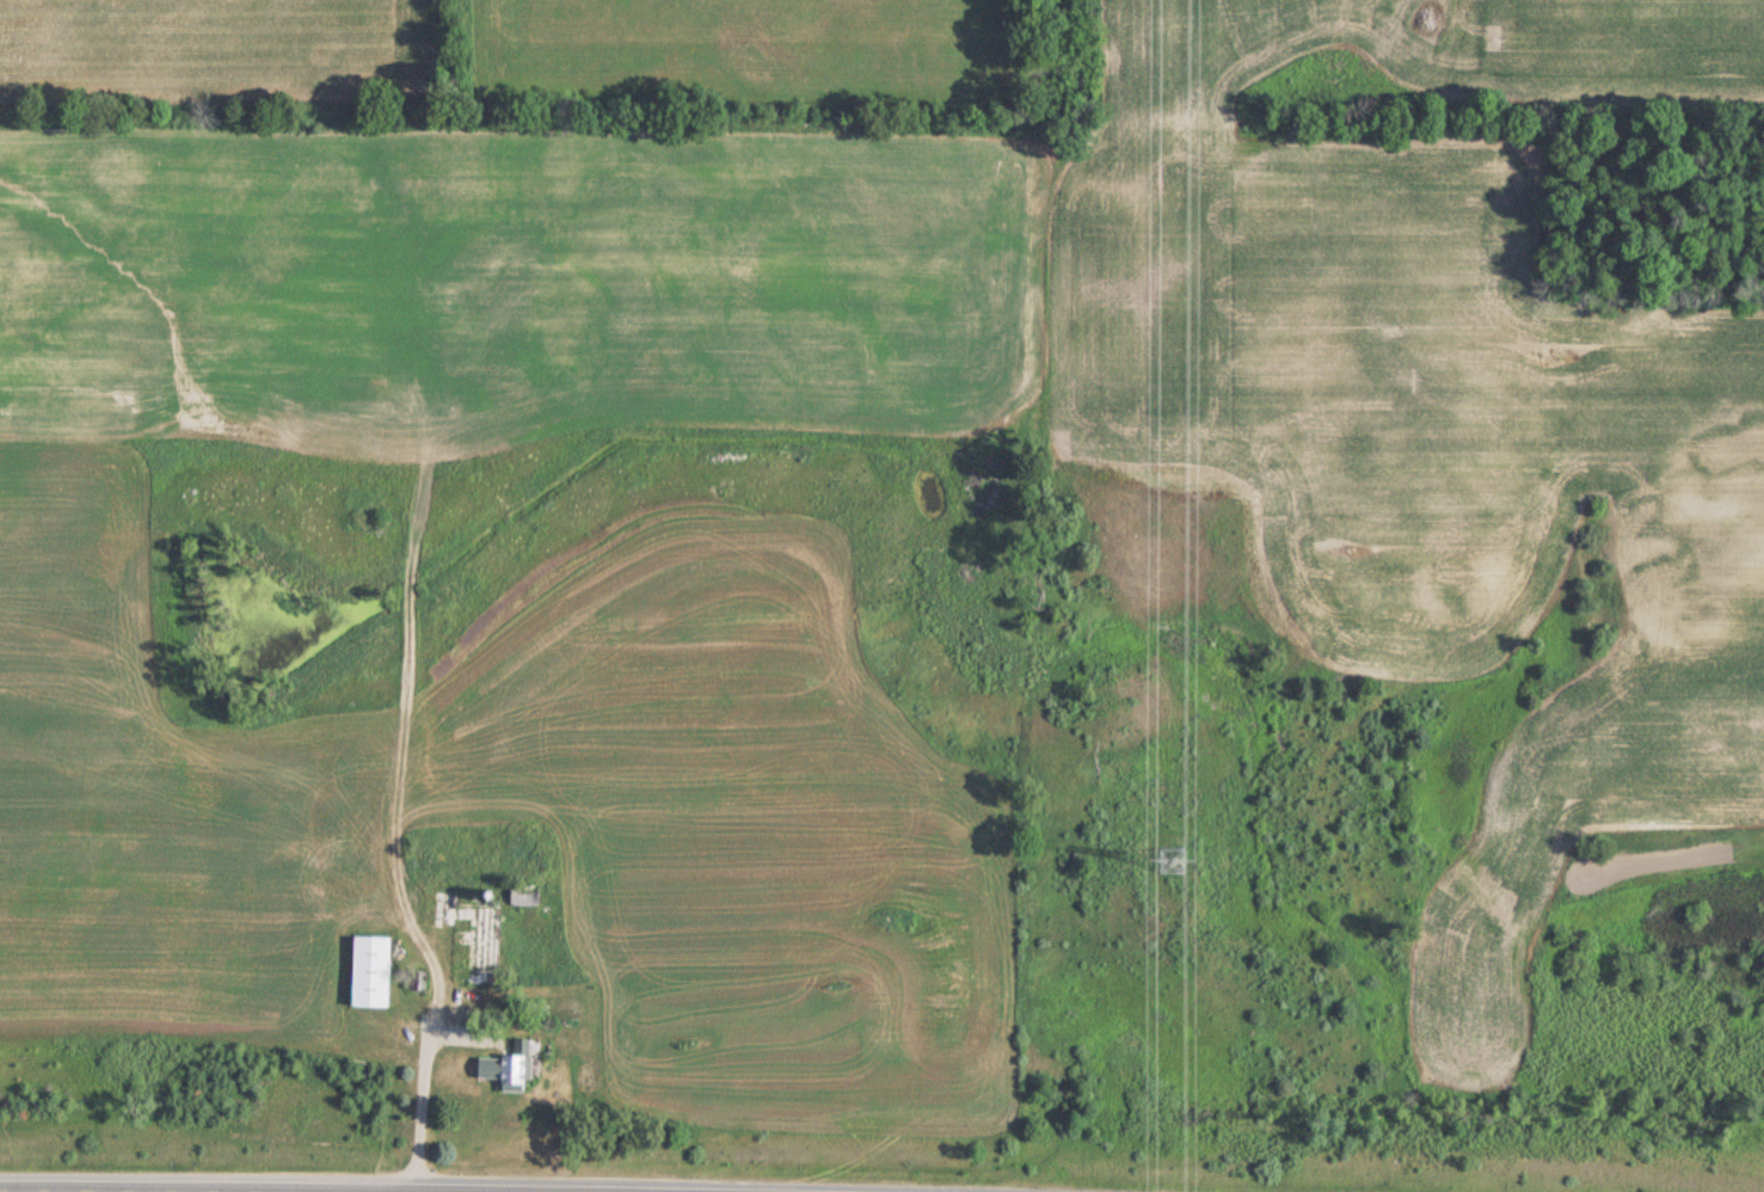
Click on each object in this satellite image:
power tower: (1173, 858)
building: (521, 896)
building: (454, 926)
building: (365, 971)
building: (512, 1065)
road: (424, 1108)
road: (241, 1191)

